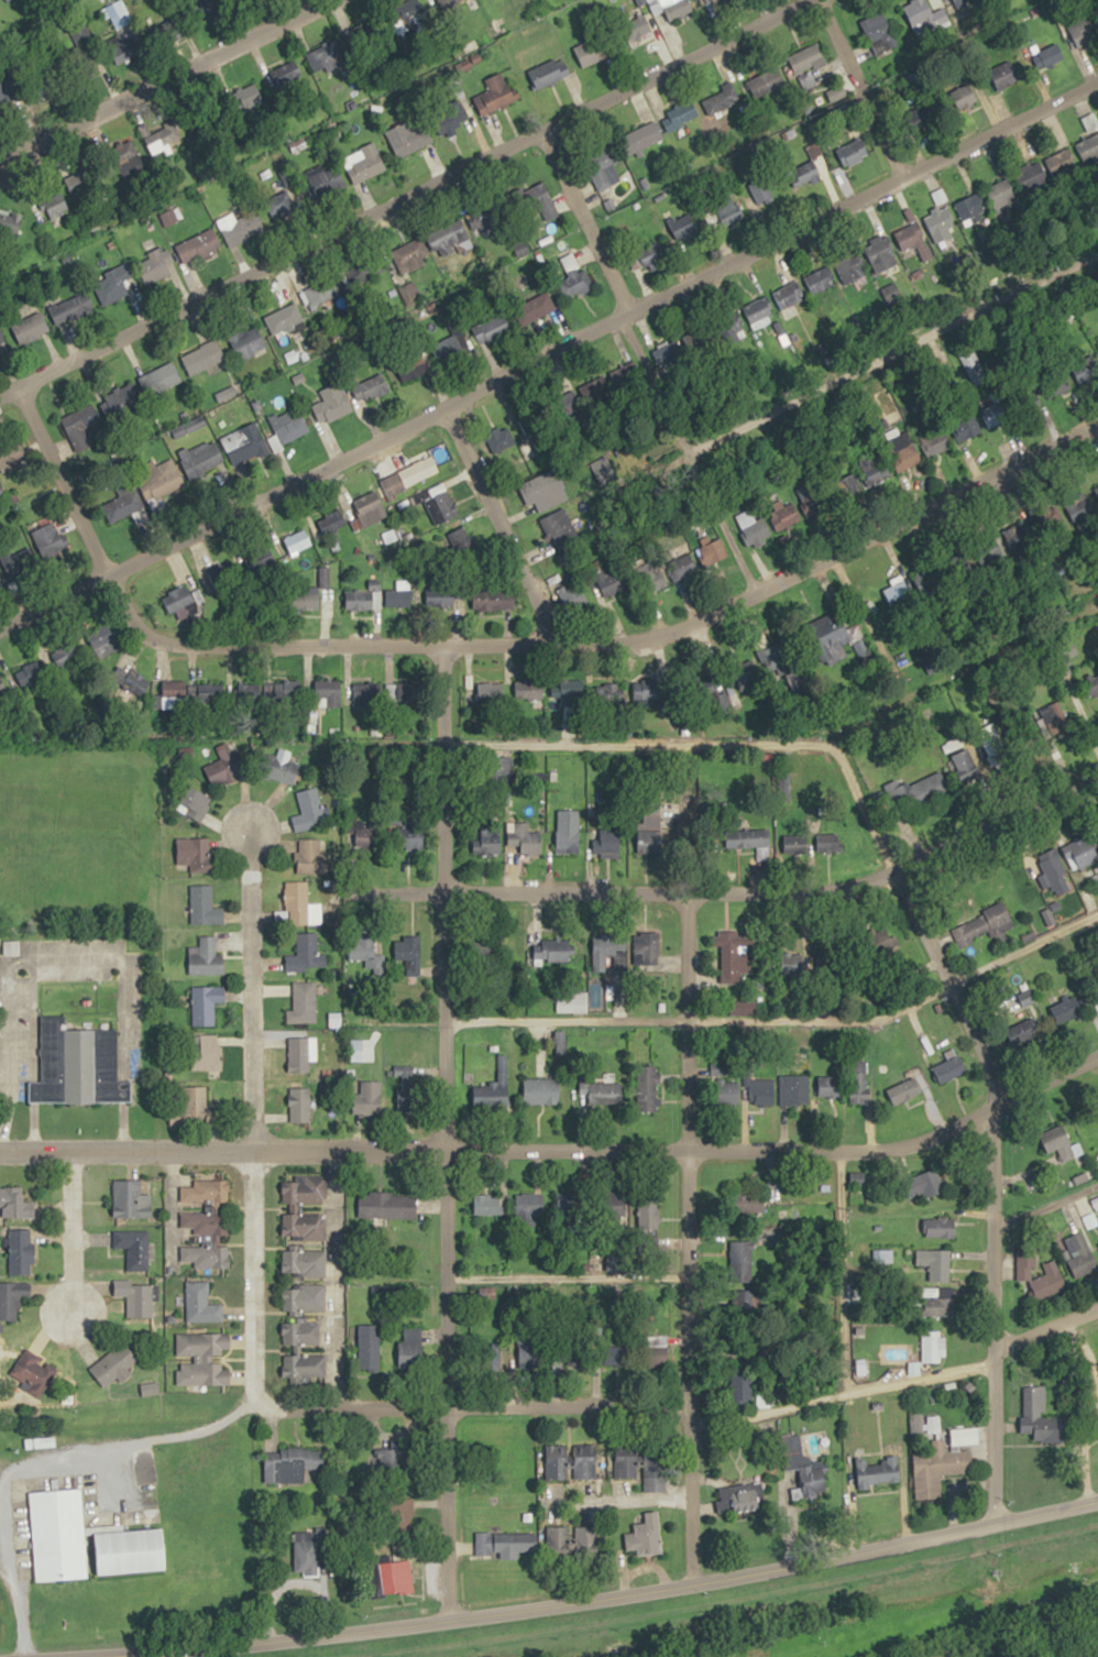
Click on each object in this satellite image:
building: (454, 0)
building: (211, 4)
building: (676, 8)
building: (419, 14)
building: (637, 28)
building: (879, 32)
building: (1084, 34)
building: (363, 36)
building: (591, 48)
building: (124, 50)
building: (1047, 55)
building: (326, 56)
building: (809, 58)
building: (285, 72)
building: (549, 72)
road: (157, 74)
building: (1007, 75)
building: (766, 81)
road: (863, 86)
building: (495, 94)
building: (964, 96)
building: (721, 101)
building: (679, 116)
building: (163, 136)
building: (641, 136)
building: (407, 138)
building: (853, 151)
building: (363, 162)
building: (1064, 164)
building: (602, 168)
building: (327, 183)
building: (1035, 183)
road: (394, 195)
building: (1003, 198)
building: (539, 204)
building: (55, 205)
building: (278, 206)
building: (973, 209)
building: (731, 210)
building: (488, 213)
building: (10, 221)
building: (941, 224)
building: (685, 227)
building: (239, 228)
building: (450, 238)
building: (193, 249)
building: (880, 253)
building: (409, 255)
building: (647, 256)
building: (155, 265)
building: (850, 268)
building: (365, 270)
building: (573, 277)
building: (819, 281)
building: (111, 284)
building: (327, 290)
building: (789, 295)
building: (539, 306)
building: (68, 308)
building: (758, 310)
building: (283, 319)
building: (29, 326)
building: (491, 328)
building: (245, 340)
building: (691, 342)
road: (547, 345)
road: (889, 347)
building: (449, 349)
building: (671, 354)
building: (202, 356)
road: (637, 358)
building: (411, 367)
building: (161, 378)
building: (370, 387)
building: (594, 389)
building: (129, 397)
building: (334, 399)
building: (997, 413)
building: (288, 425)
building: (499, 439)
building: (937, 440)
building: (249, 447)
building: (10, 453)
building: (889, 459)
building: (201, 460)
building: (603, 469)
road: (64, 475)
building: (408, 476)
building: (161, 481)
building: (543, 491)
building: (1096, 492)
building: (441, 505)
building: (121, 506)
road: (510, 507)
building: (370, 508)
building: (780, 511)
building: (331, 522)
building: (751, 526)
building: (559, 529)
building: (47, 536)
building: (297, 541)
building: (711, 552)
building: (18, 560)
building: (648, 572)
building: (224, 574)
building: (924, 580)
building: (613, 581)
building: (0, 589)
building: (398, 594)
building: (180, 596)
building: (447, 596)
building: (363, 597)
building: (573, 597)
building: (306, 599)
building: (495, 599)
road: (611, 623)
building: (832, 635)
building: (66, 656)
building: (778, 659)
building: (32, 671)
building: (135, 682)
building: (250, 688)
building: (288, 689)
building: (361, 689)
building: (210, 692)
building: (2, 693)
building: (327, 693)
building: (400, 693)
building: (646, 694)
building: (173, 698)
road: (566, 740)
road: (820, 748)
building: (226, 764)
building: (277, 766)
building: (195, 804)
building: (308, 811)
road: (993, 812)
road: (443, 824)
building: (371, 833)
building: (409, 838)
building: (610, 842)
building: (651, 843)
building: (828, 843)
building: (1081, 853)
building: (194, 854)
building: (311, 858)
building: (1055, 874)
road: (633, 890)
building: (298, 903)
building: (204, 907)
road: (915, 920)
building: (984, 925)
road: (1019, 940)
parking lot: (62, 946)
building: (362, 950)
building: (555, 952)
building: (307, 954)
building: (409, 954)
building: (646, 955)
building: (734, 955)
building: (603, 956)
building: (205, 958)
road: (75, 961)
parking lot: (75, 973)
road: (245, 977)
building: (206, 1002)
building: (303, 1002)
building: (1067, 1007)
parking lot: (131, 1017)
road: (695, 1018)
parking lot: (21, 1034)
building: (205, 1051)
building: (299, 1053)
road: (32, 1056)
building: (78, 1065)
building: (951, 1066)
building: (860, 1080)
building: (800, 1084)
building: (828, 1085)
building: (726, 1086)
building: (648, 1088)
building: (541, 1089)
building: (602, 1090)
building: (904, 1090)
building: (410, 1091)
building: (370, 1097)
building: (493, 1099)
building: (299, 1104)
building: (194, 1105)
building: (1063, 1148)
road: (558, 1152)
road: (688, 1160)
building: (932, 1182)
building: (202, 1192)
building: (131, 1199)
building: (755, 1203)
building: (15, 1204)
building: (486, 1204)
building: (387, 1205)
building: (530, 1206)
building: (572, 1206)
building: (649, 1214)
building: (204, 1221)
building: (304, 1226)
building: (940, 1227)
road: (70, 1236)
road: (993, 1243)
building: (134, 1248)
building: (20, 1250)
building: (1080, 1254)
building: (202, 1255)
building: (742, 1260)
building: (936, 1263)
building: (1028, 1269)
road: (252, 1277)
road: (567, 1277)
building: (12, 1297)
building: (304, 1297)
building: (138, 1298)
building: (201, 1304)
building: (940, 1306)
road: (1045, 1316)
road: (446, 1319)
building: (934, 1346)
building: (370, 1347)
building: (411, 1348)
building: (301, 1350)
building: (202, 1359)
building: (114, 1362)
building: (34, 1370)
building: (150, 1387)
building: (744, 1387)
road: (841, 1393)
road: (472, 1406)
building: (1040, 1415)
building: (797, 1450)
building: (395, 1459)
building: (627, 1460)
building: (589, 1461)
road: (41, 1462)
building: (557, 1462)
building: (294, 1463)
building: (940, 1468)
building: (878, 1471)
building: (654, 1472)
building: (742, 1495)
building: (402, 1514)
building: (59, 1535)
building: (646, 1535)
building: (507, 1541)
building: (558, 1541)
building: (589, 1544)
building: (133, 1550)
building: (397, 1577)
road: (596, 1601)

